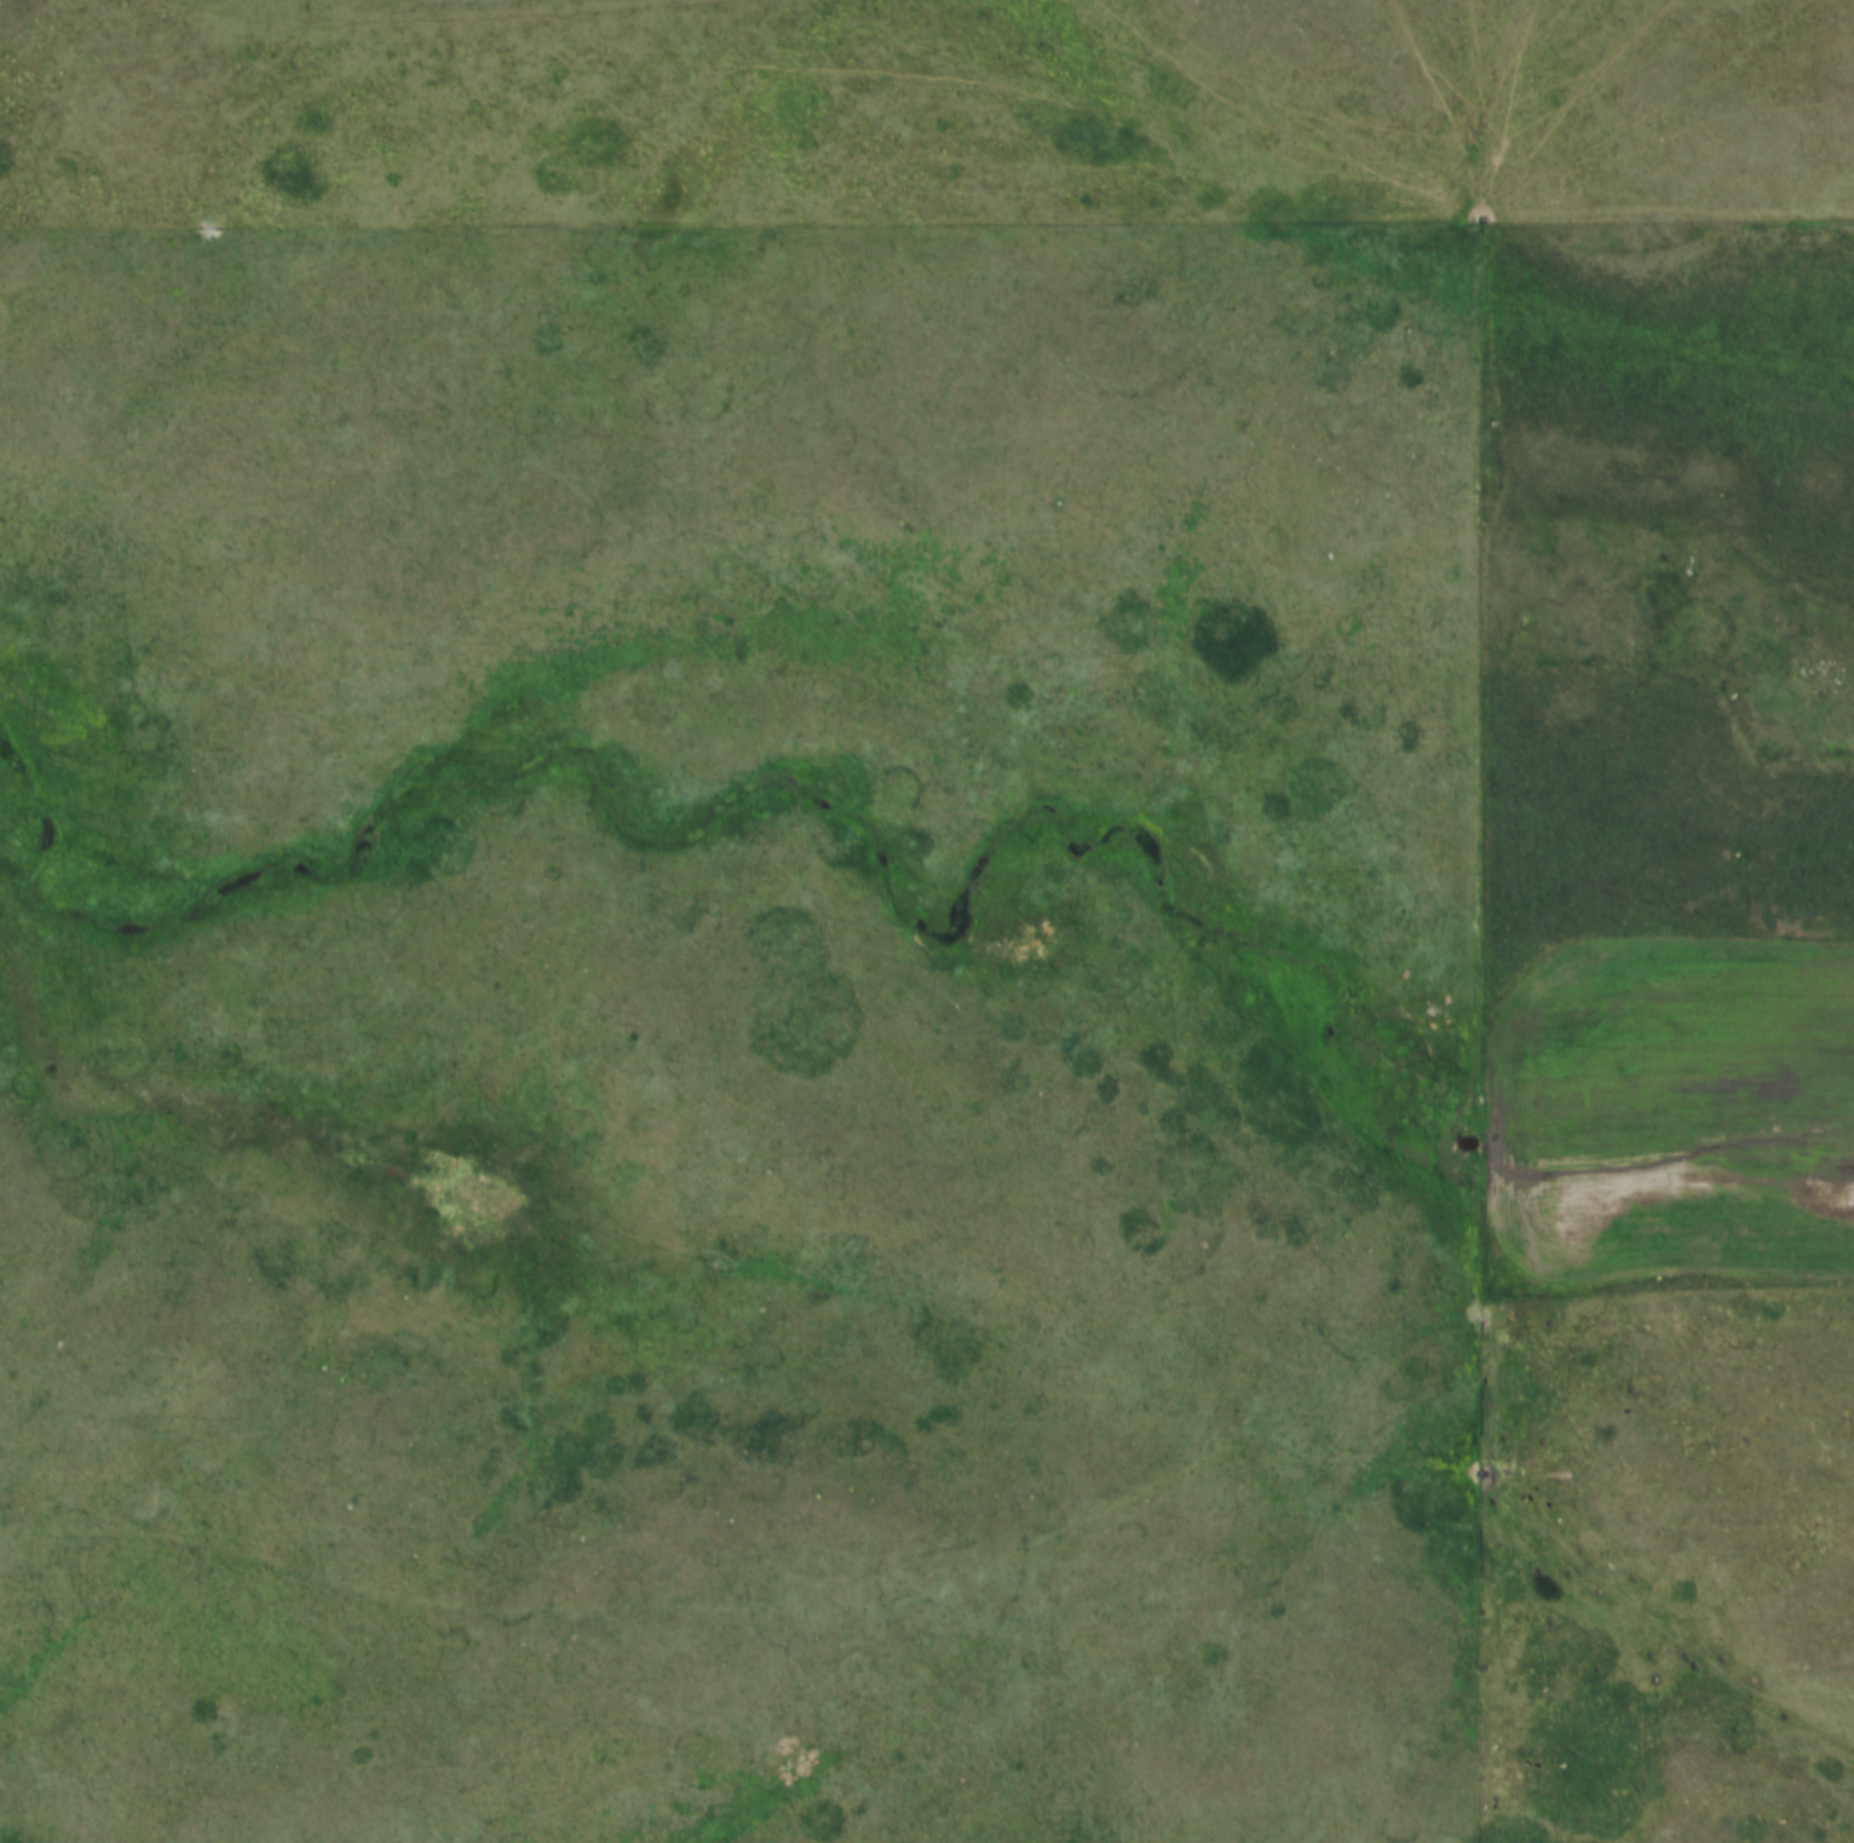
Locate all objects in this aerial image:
road: (1853, 1745)

